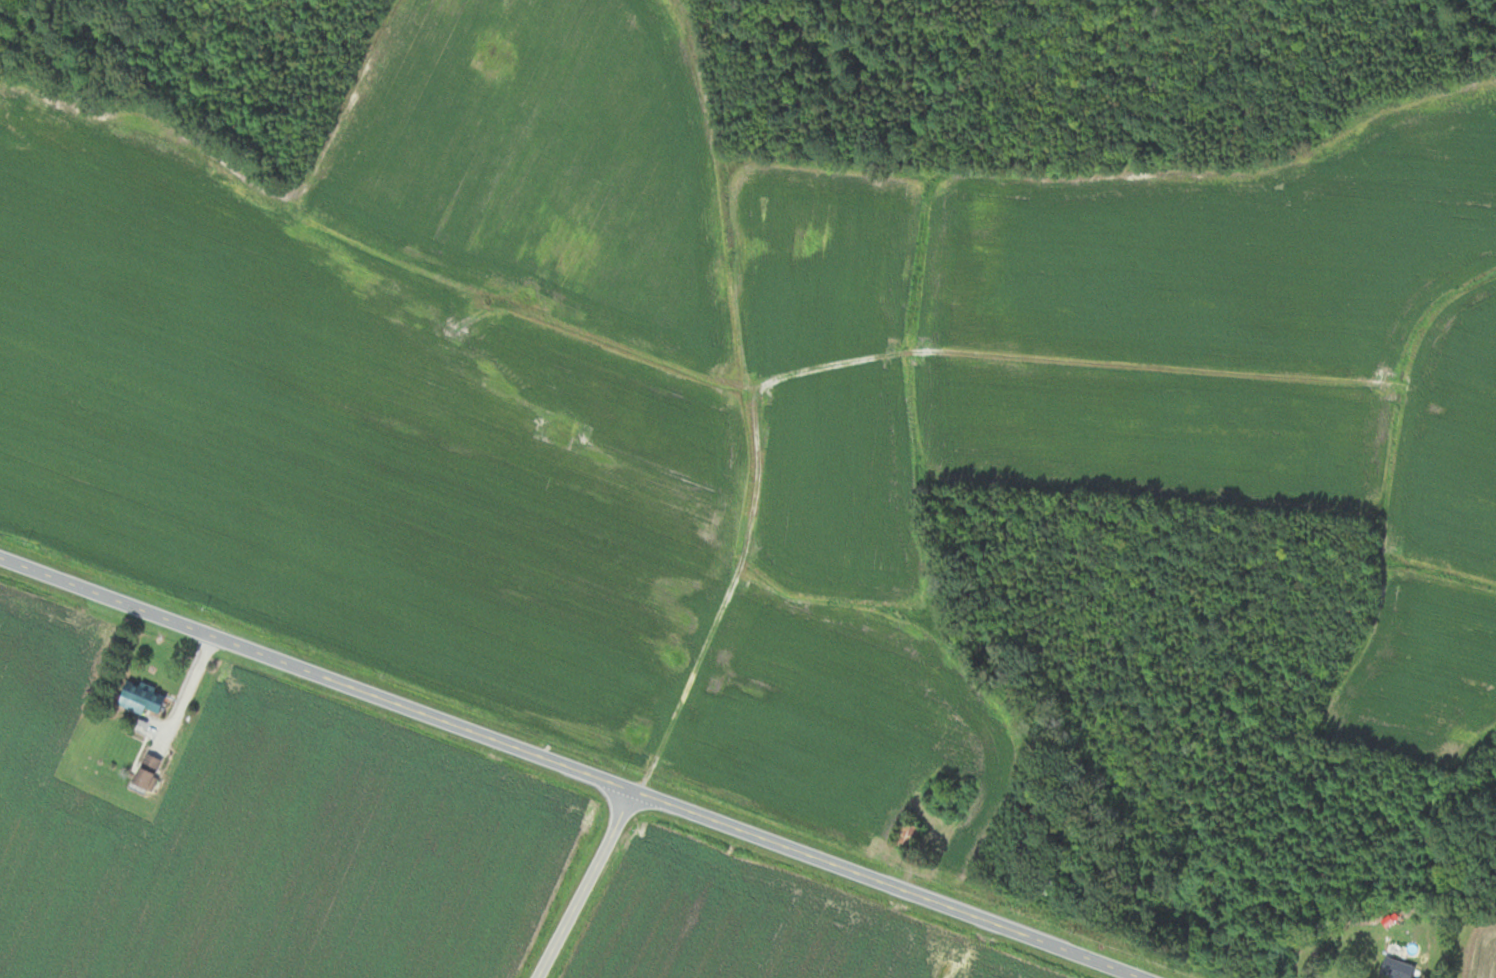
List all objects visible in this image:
road: (187, 690)
building: (143, 698)
building: (151, 764)
road: (565, 767)
building: (907, 835)
road: (581, 884)
building: (1383, 932)
building: (1394, 973)

